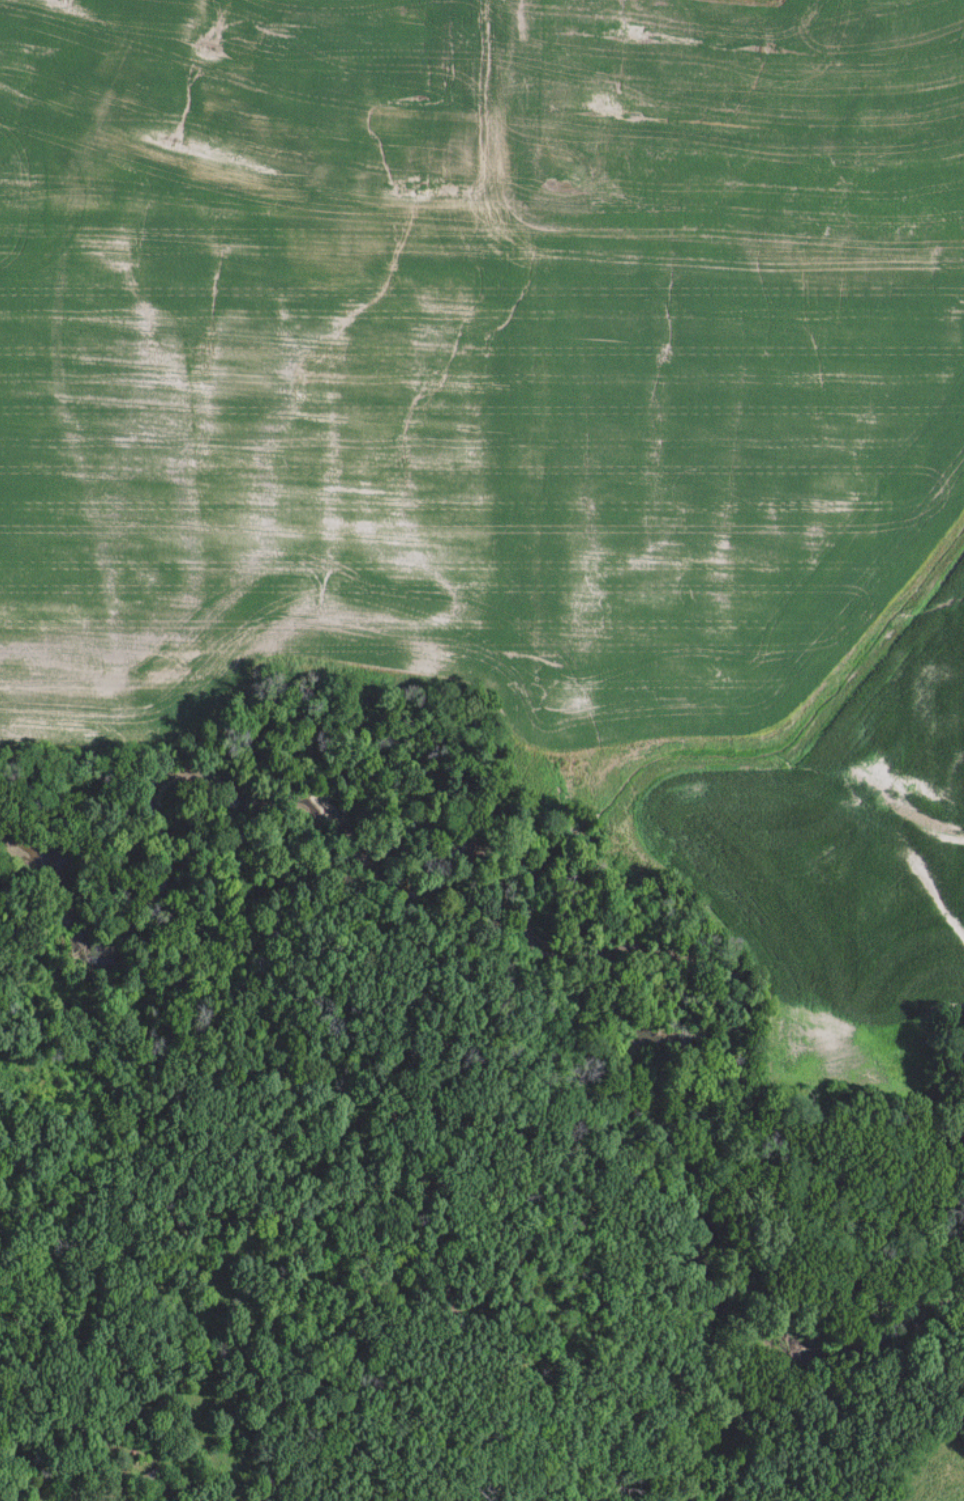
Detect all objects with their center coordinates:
road: (60, 211)

